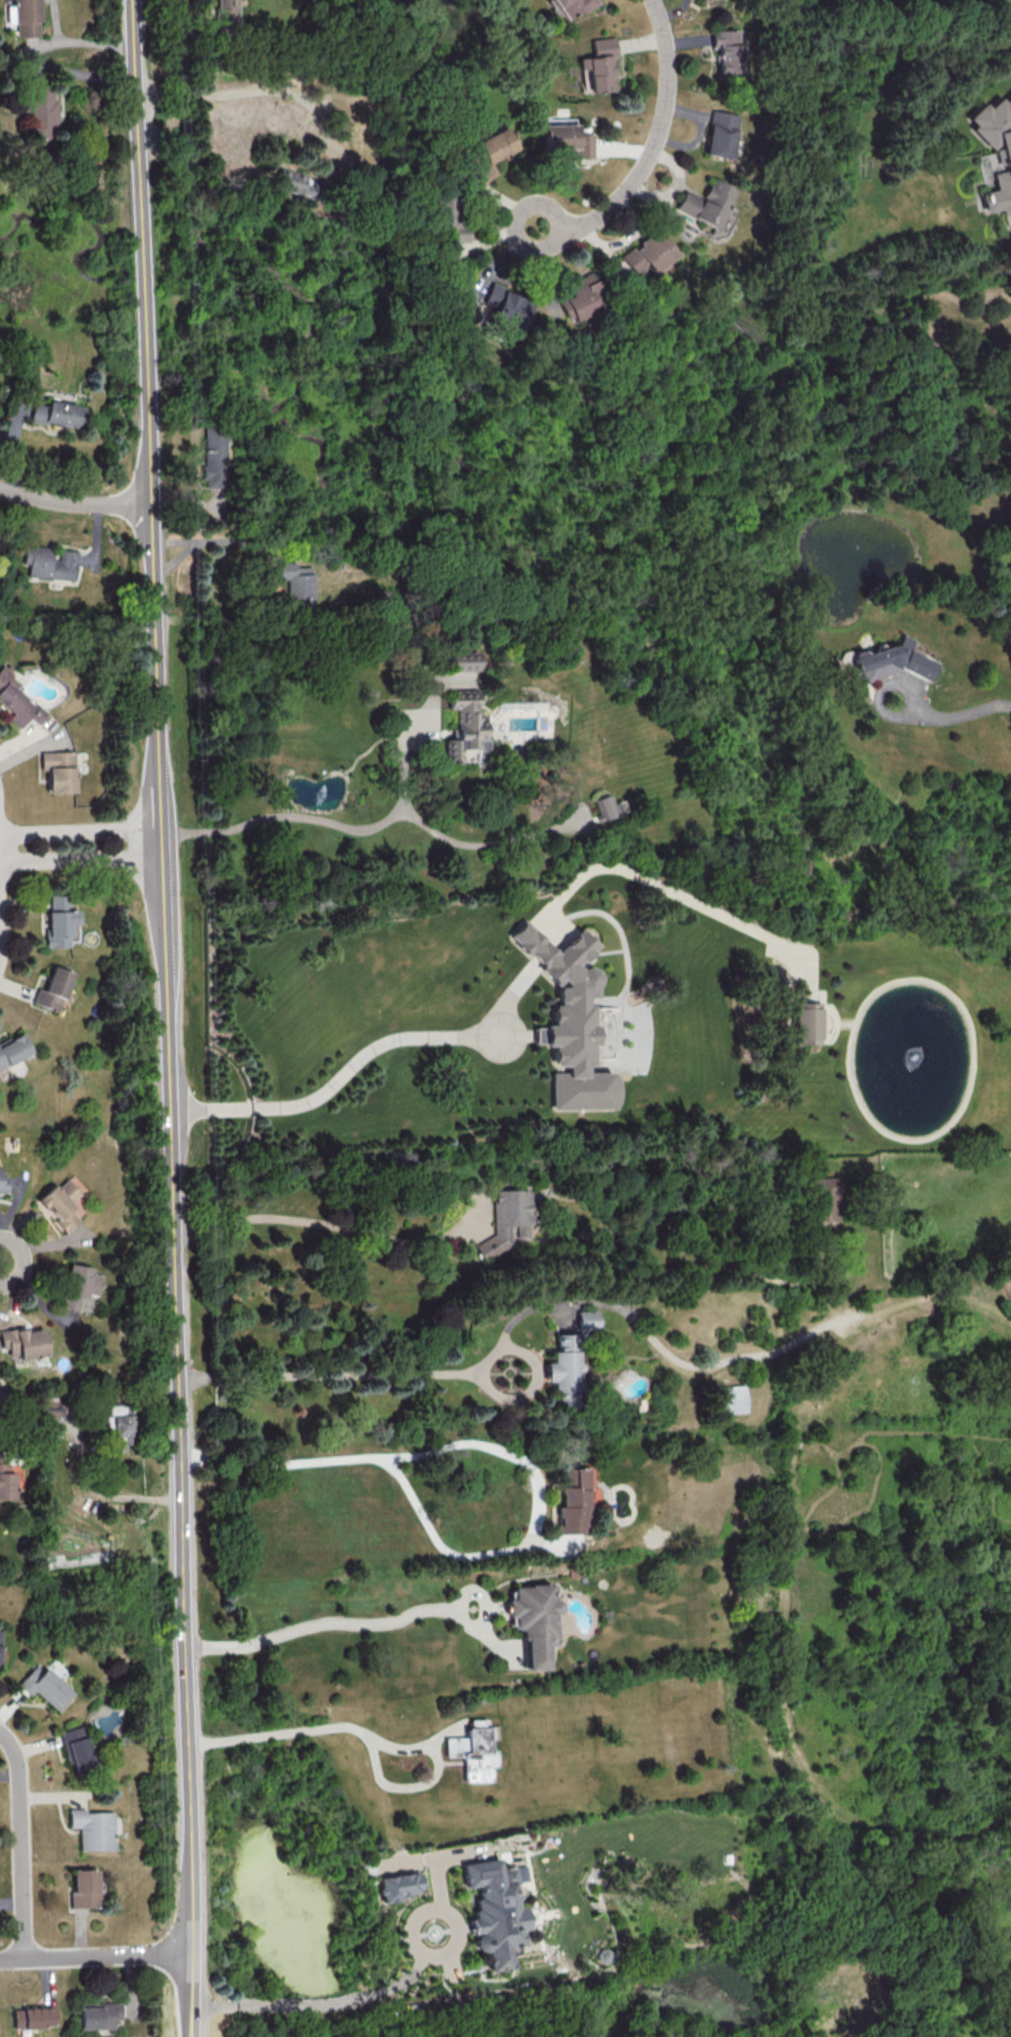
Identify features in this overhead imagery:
building: (575, 5)
building: (226, 13)
building: (25, 17)
road: (76, 43)
building: (728, 49)
building: (599, 64)
building: (44, 68)
road: (253, 92)
building: (42, 112)
building: (721, 134)
building: (567, 139)
building: (495, 145)
road: (651, 146)
building: (1006, 158)
building: (291, 182)
building: (706, 203)
building: (449, 222)
building: (647, 253)
building: (582, 295)
building: (507, 306)
building: (57, 413)
road: (73, 499)
road: (206, 539)
building: (50, 562)
building: (291, 584)
building: (459, 661)
building: (891, 661)
building: (16, 700)
road: (949, 714)
building: (463, 727)
building: (58, 770)
building: (604, 806)
road: (371, 828)
road: (80, 834)
road: (81, 859)
building: (59, 919)
road: (166, 975)
building: (52, 989)
building: (569, 1021)
building: (808, 1023)
building: (12, 1048)
road: (363, 1057)
building: (3, 1182)
building: (60, 1204)
building: (507, 1221)
road: (320, 1223)
building: (80, 1285)
building: (588, 1320)
building: (23, 1342)
building: (563, 1364)
road: (416, 1376)
building: (730, 1399)
building: (119, 1427)
road: (494, 1449)
building: (6, 1479)
building: (575, 1502)
building: (534, 1621)
road: (345, 1625)
building: (0, 1637)
building: (45, 1686)
road: (376, 1741)
building: (75, 1748)
building: (473, 1751)
building: (91, 1829)
road: (24, 1845)
building: (397, 1886)
building: (83, 1888)
building: (496, 1909)
road: (95, 1956)
road: (392, 1989)
road: (191, 1994)
building: (99, 2015)
building: (34, 2017)

